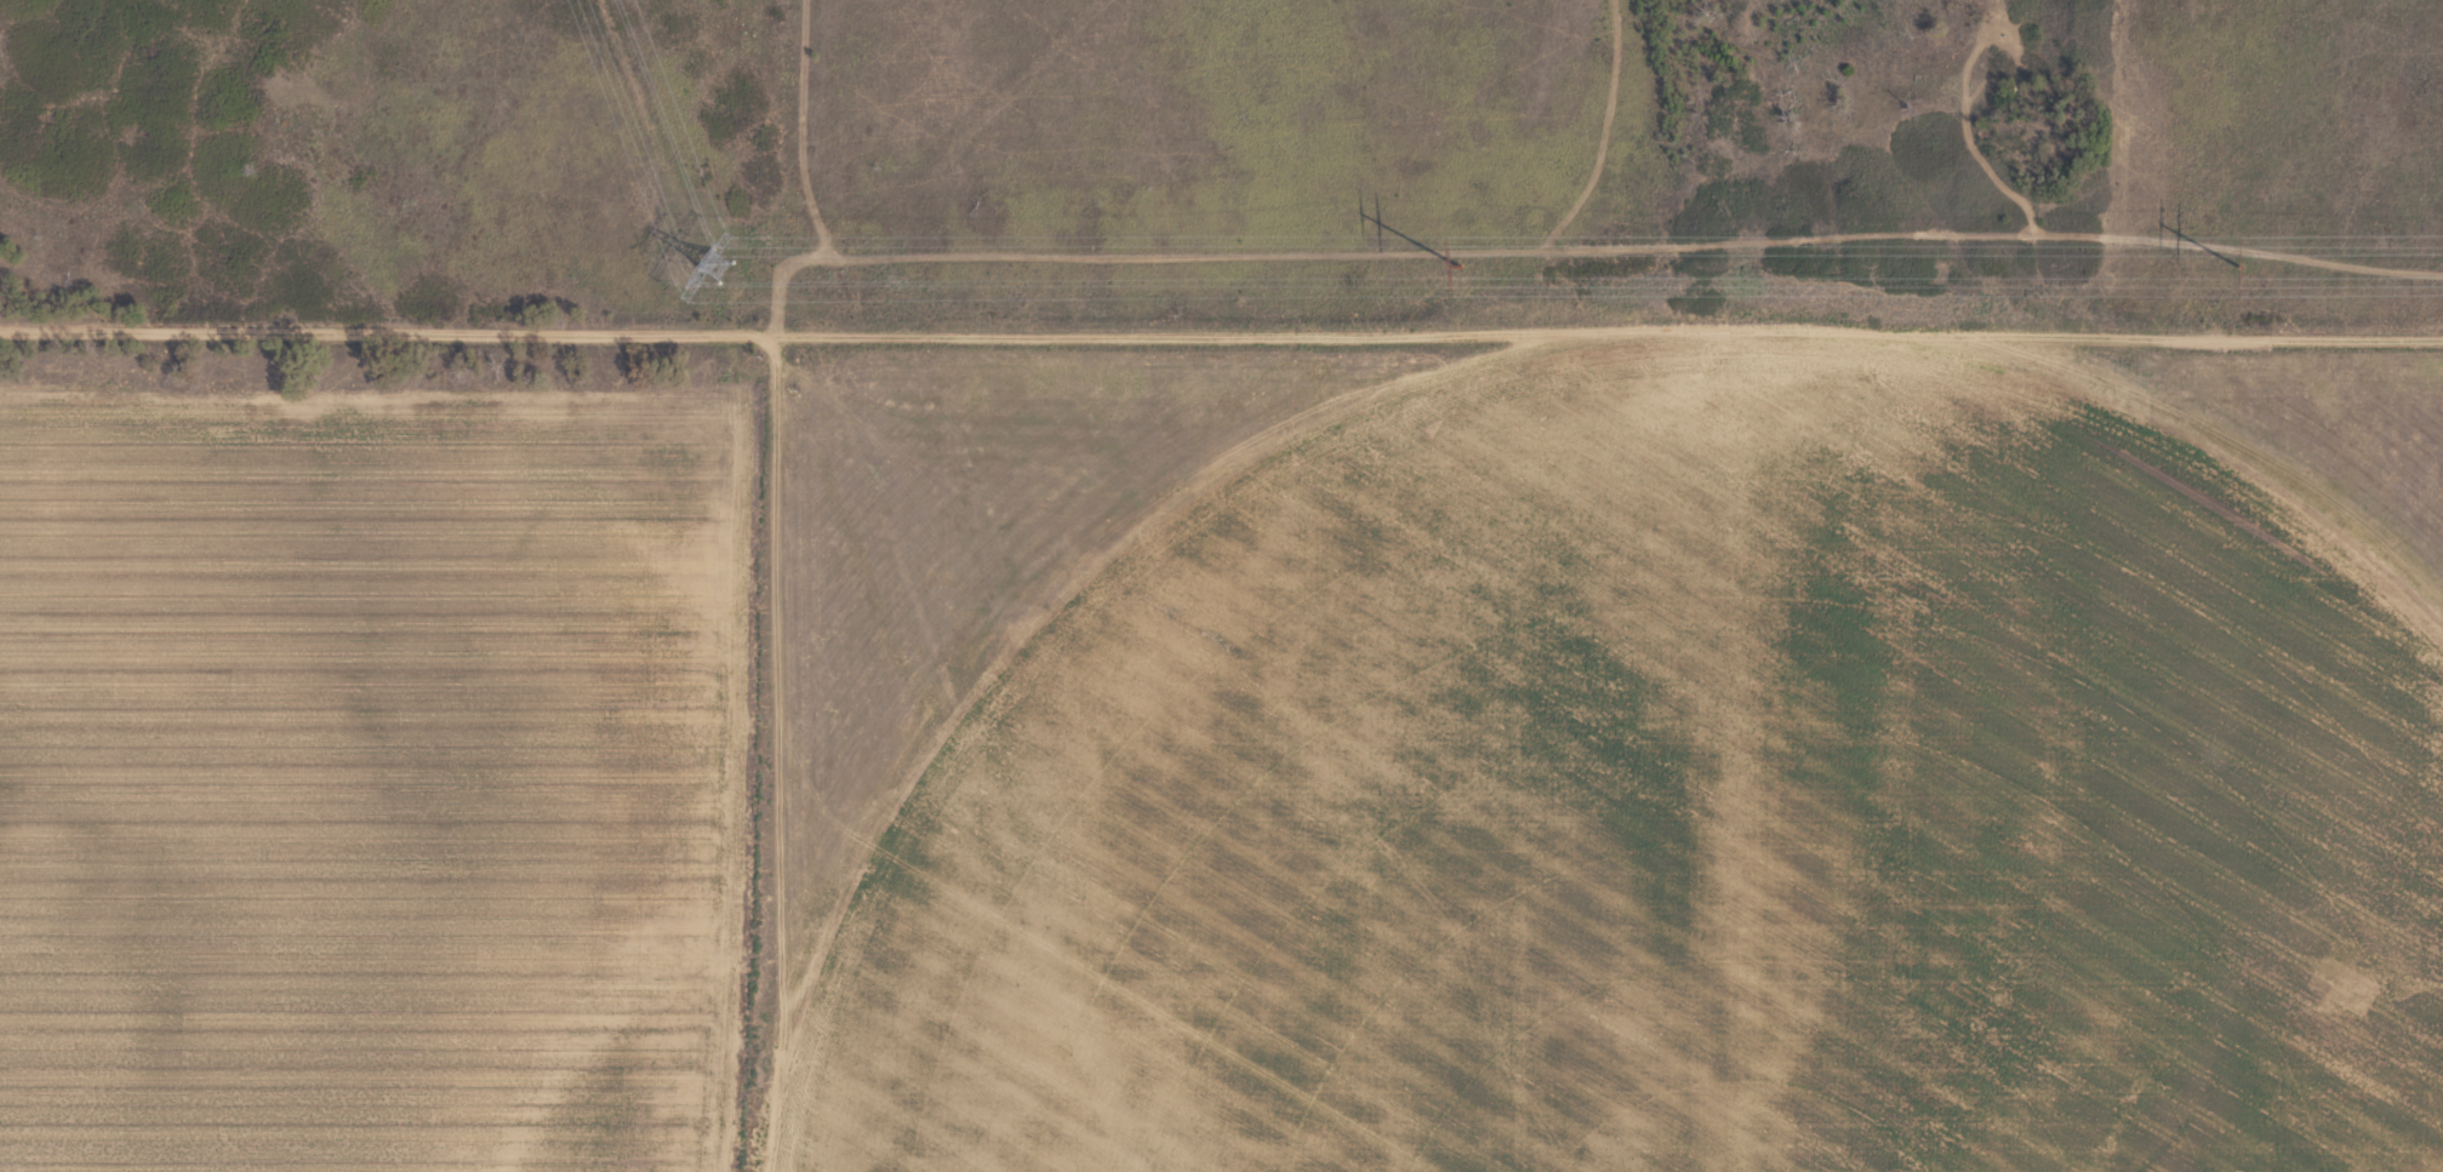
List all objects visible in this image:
power tower: (715, 265)
power tower: (1459, 267)
power tower: (2243, 267)
road: (1221, 336)
railway: (892, 582)
crop: (1221, 585)

